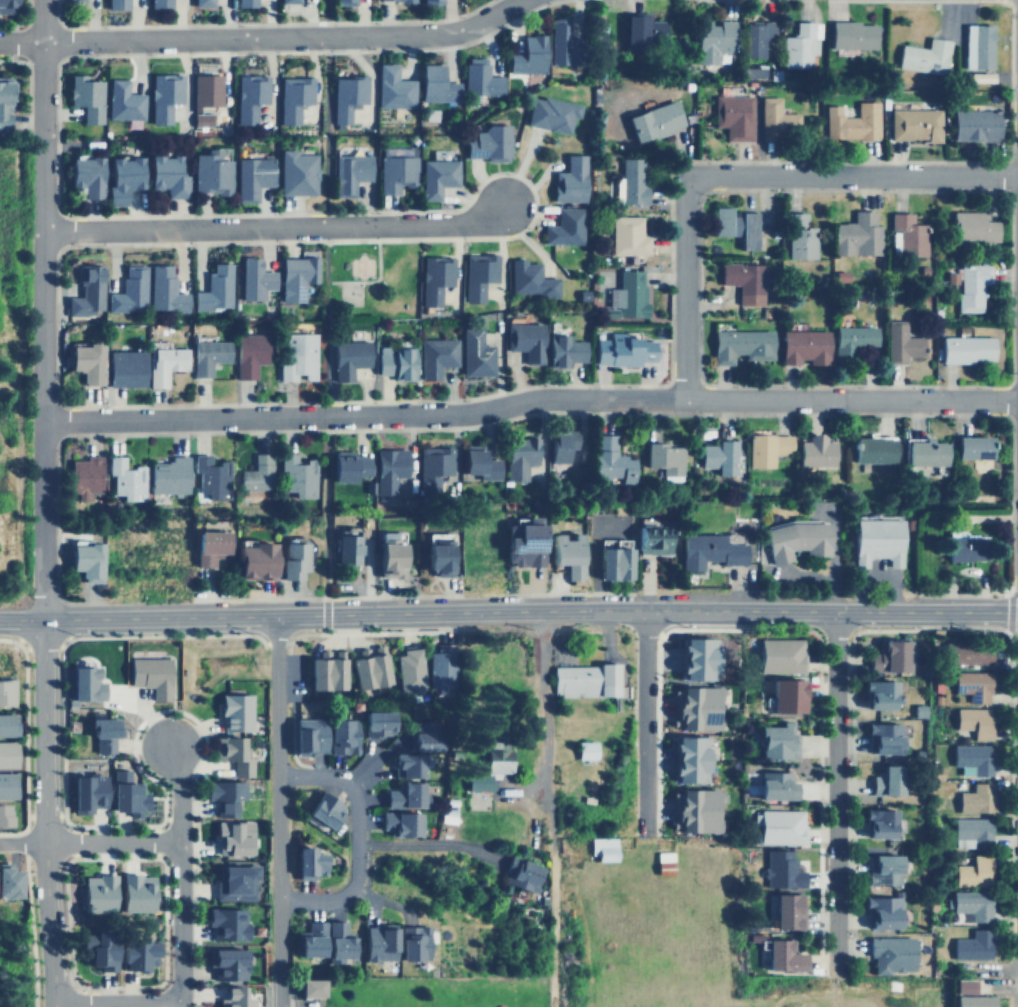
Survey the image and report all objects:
building: (76, 0)
building: (402, 0)
building: (287, 1)
building: (344, 1)
building: (201, 2)
building: (432, 2)
building: (158, 3)
building: (116, 4)
building: (6, 6)
road: (317, 18)
building: (642, 29)
building: (852, 35)
road: (264, 37)
building: (757, 37)
building: (713, 40)
building: (561, 42)
building: (800, 45)
building: (978, 46)
building: (527, 55)
building: (925, 56)
building: (480, 78)
building: (436, 84)
building: (393, 87)
building: (206, 90)
building: (164, 95)
building: (249, 96)
building: (346, 96)
building: (85, 97)
building: (292, 97)
building: (5, 100)
building: (123, 101)
building: (552, 113)
building: (733, 116)
road: (1015, 117)
building: (774, 118)
building: (201, 119)
building: (654, 120)
building: (852, 121)
building: (915, 124)
building: (975, 124)
building: (488, 143)
building: (395, 169)
building: (210, 172)
building: (349, 172)
building: (296, 173)
building: (84, 175)
building: (167, 175)
road: (856, 175)
building: (252, 176)
building: (122, 177)
building: (436, 177)
building: (569, 180)
building: (631, 180)
building: (736, 225)
building: (565, 226)
road: (274, 227)
building: (972, 227)
building: (857, 234)
building: (907, 235)
building: (628, 236)
building: (799, 236)
park: (365, 268)
building: (477, 274)
building: (296, 275)
building: (434, 277)
building: (254, 279)
building: (530, 279)
building: (743, 280)
building: (972, 285)
road: (685, 287)
building: (215, 288)
building: (164, 289)
building: (129, 290)
building: (86, 291)
building: (628, 293)
road: (320, 325)
building: (524, 339)
building: (852, 341)
building: (902, 342)
building: (742, 346)
building: (804, 347)
building: (967, 349)
building: (562, 350)
building: (615, 350)
building: (645, 350)
building: (249, 353)
building: (475, 354)
building: (208, 355)
building: (298, 356)
building: (436, 356)
building: (348, 358)
building: (85, 361)
building: (393, 362)
building: (165, 363)
building: (124, 368)
road: (528, 400)
building: (561, 444)
building: (973, 448)
building: (766, 449)
building: (872, 450)
building: (814, 451)
building: (922, 453)
building: (519, 457)
building: (717, 457)
building: (663, 460)
building: (609, 462)
building: (478, 463)
building: (347, 465)
building: (434, 466)
building: (387, 470)
building: (257, 474)
building: (169, 475)
building: (298, 475)
building: (82, 476)
building: (211, 476)
building: (127, 479)
road: (40, 503)
building: (654, 540)
building: (792, 541)
building: (874, 542)
building: (520, 544)
building: (207, 546)
building: (345, 548)
building: (967, 548)
building: (707, 552)
building: (563, 554)
building: (387, 555)
building: (435, 557)
building: (291, 559)
building: (608, 559)
building: (84, 561)
building: (251, 561)
road: (508, 611)
building: (975, 654)
building: (699, 655)
building: (777, 656)
building: (884, 658)
building: (436, 669)
building: (364, 670)
building: (404, 672)
building: (323, 674)
building: (148, 675)
building: (581, 680)
building: (84, 683)
building: (969, 686)
building: (6, 691)
building: (895, 694)
building: (876, 695)
building: (781, 696)
building: (700, 703)
building: (919, 710)
building: (234, 712)
road: (639, 718)
building: (373, 723)
building: (970, 724)
building: (5, 725)
building: (101, 733)
building: (322, 736)
building: (420, 737)
building: (883, 738)
building: (768, 741)
building: (582, 750)
building: (492, 753)
building: (8, 754)
building: (232, 754)
building: (691, 755)
building: (971, 759)
building: (403, 765)
building: (883, 781)
building: (475, 783)
building: (8, 785)
building: (769, 785)
road: (835, 790)
building: (85, 792)
building: (125, 793)
road: (180, 795)
building: (223, 795)
building: (400, 795)
building: (974, 797)
building: (699, 806)
road: (548, 808)
road: (279, 810)
building: (323, 811)
building: (3, 815)
building: (397, 823)
building: (874, 825)
building: (774, 828)
building: (970, 834)
building: (233, 838)
road: (357, 838)
road: (90, 842)
building: (598, 849)
building: (311, 862)
building: (660, 863)
building: (780, 869)
building: (880, 870)
building: (971, 872)
building: (519, 874)
building: (9, 881)
building: (234, 882)
building: (136, 892)
building: (97, 893)
building: (971, 905)
road: (24, 908)
building: (780, 912)
building: (880, 913)
building: (226, 923)
building: (307, 940)
building: (336, 940)
building: (412, 942)
building: (377, 943)
building: (971, 946)
building: (95, 950)
building: (889, 954)
building: (131, 955)
building: (779, 957)
building: (225, 963)
road: (182, 983)
building: (306, 988)
building: (970, 996)
building: (232, 998)

